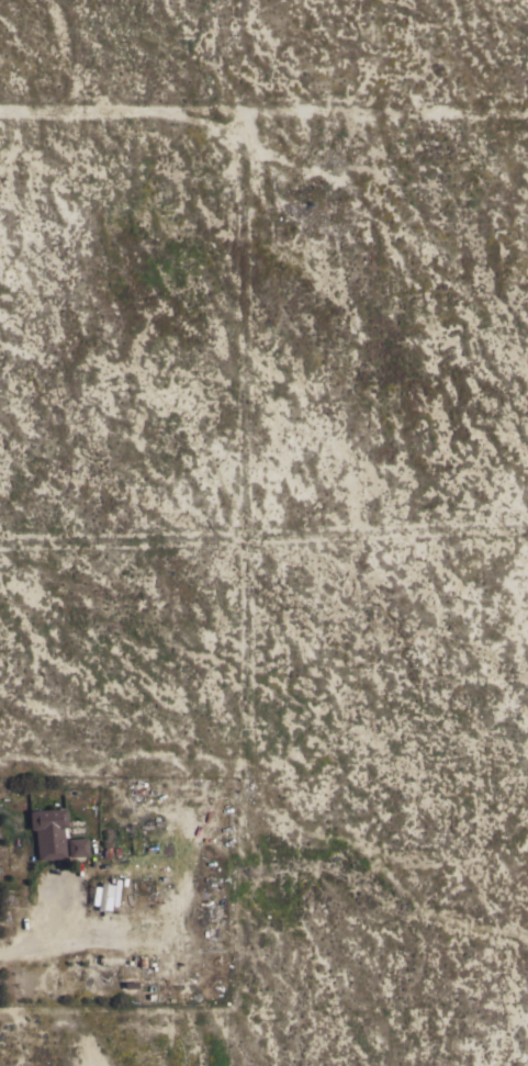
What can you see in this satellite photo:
building: (48, 832)
building: (77, 848)
building: (115, 893)
building: (101, 897)

